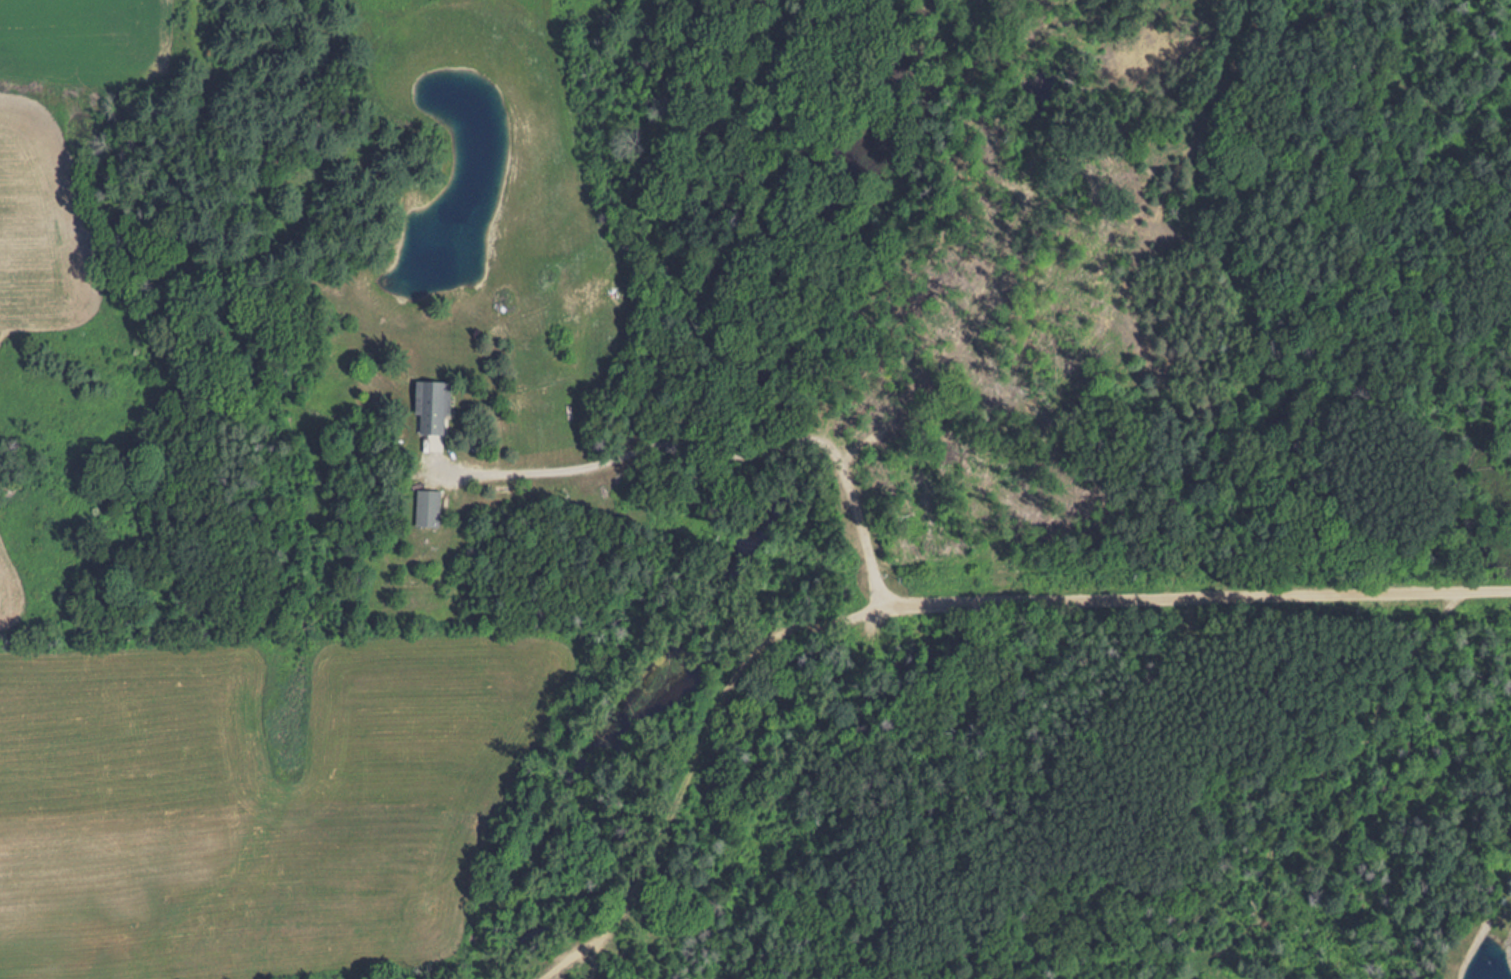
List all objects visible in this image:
road: (1128, 298)
building: (440, 405)
road: (1166, 461)
building: (436, 507)
road: (1117, 597)
road: (637, 868)

